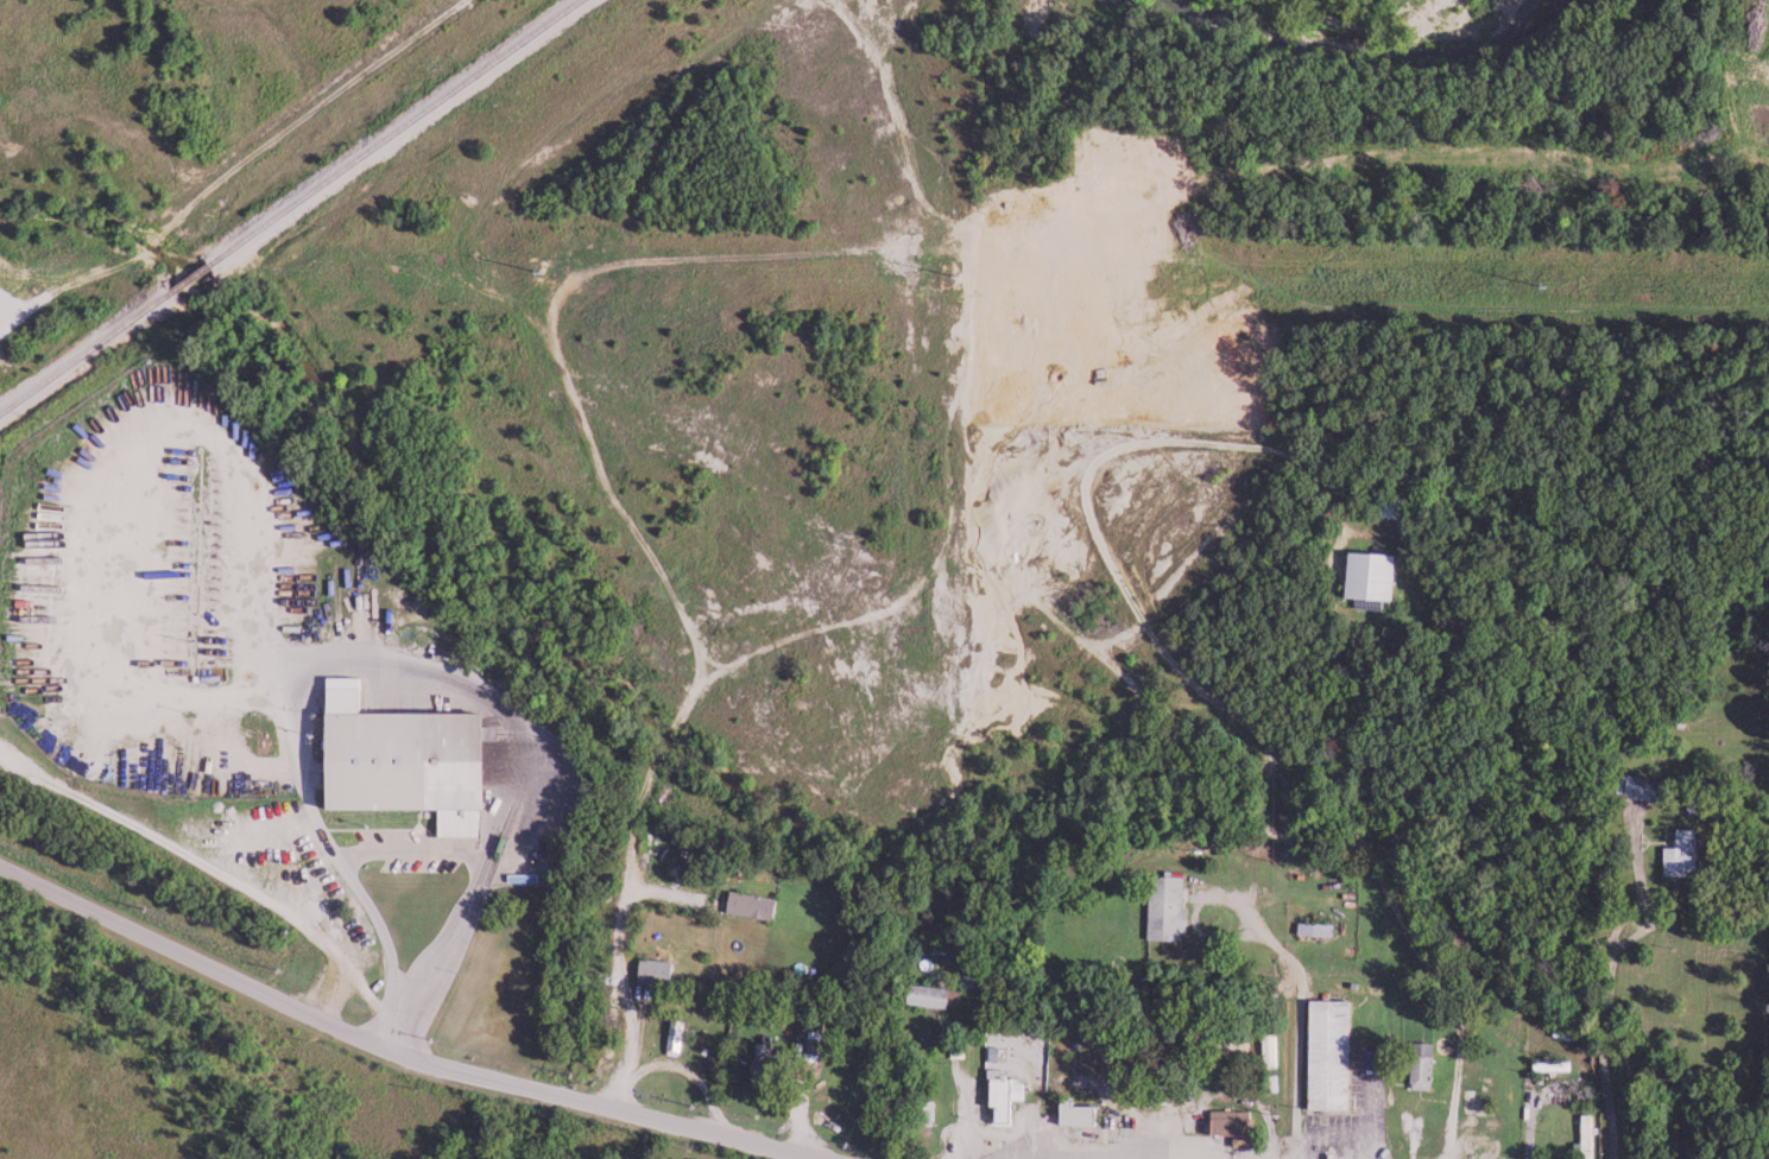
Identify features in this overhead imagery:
river: (1342, 50)
road: (264, 131)
railway: (290, 205)
power tower: (482, 271)
road: (74, 273)
power tower: (947, 279)
road: (68, 285)
power tower: (1503, 289)
road: (108, 570)
building: (1372, 577)
parking lot: (195, 597)
road: (1200, 679)
road: (683, 723)
building: (406, 761)
building: (1643, 786)
parking lot: (423, 850)
building: (1687, 854)
road: (220, 867)
parking lot: (305, 876)
road: (664, 888)
building: (756, 905)
road: (1206, 907)
building: (1170, 908)
building: (1310, 926)
building: (662, 973)
road: (1618, 978)
building: (929, 994)
building: (681, 1037)
road: (1307, 1040)
building: (1236, 1049)
building: (1276, 1049)
road: (399, 1052)
building: (1334, 1056)
building: (762, 1059)
building: (813, 1059)
building: (775, 1063)
building: (1426, 1064)
road: (686, 1066)
building: (1559, 1066)
building: (1269, 1081)
road: (1222, 1092)
building: (1007, 1094)
building: (1167, 1095)
building: (933, 1110)
building: (1080, 1113)
parking lot: (1364, 1115)
road: (973, 1116)
road: (1537, 1122)
building: (1238, 1126)
road: (807, 1127)
road: (1012, 1134)
building: (1582, 1135)
building: (1592, 1136)
road: (1421, 1138)
parking lot: (1141, 1146)
road: (815, 1157)

